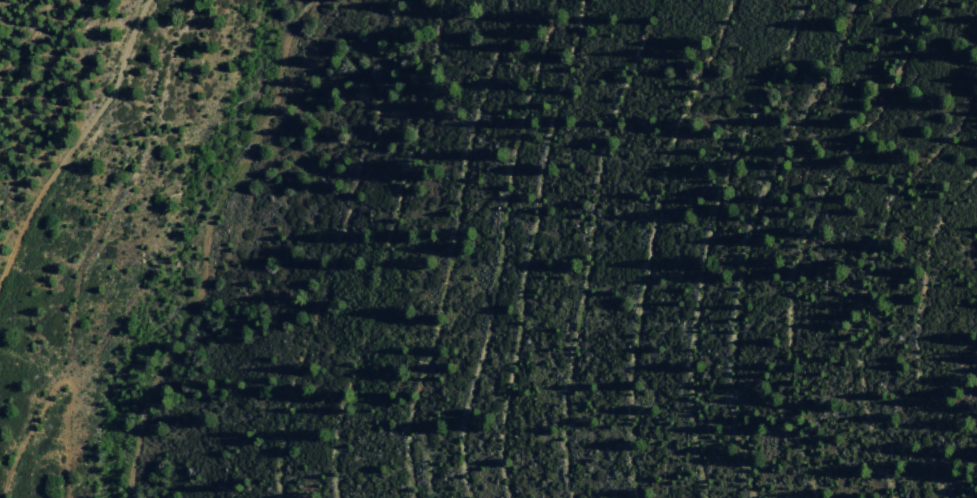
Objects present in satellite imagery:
road: (78, 144)

